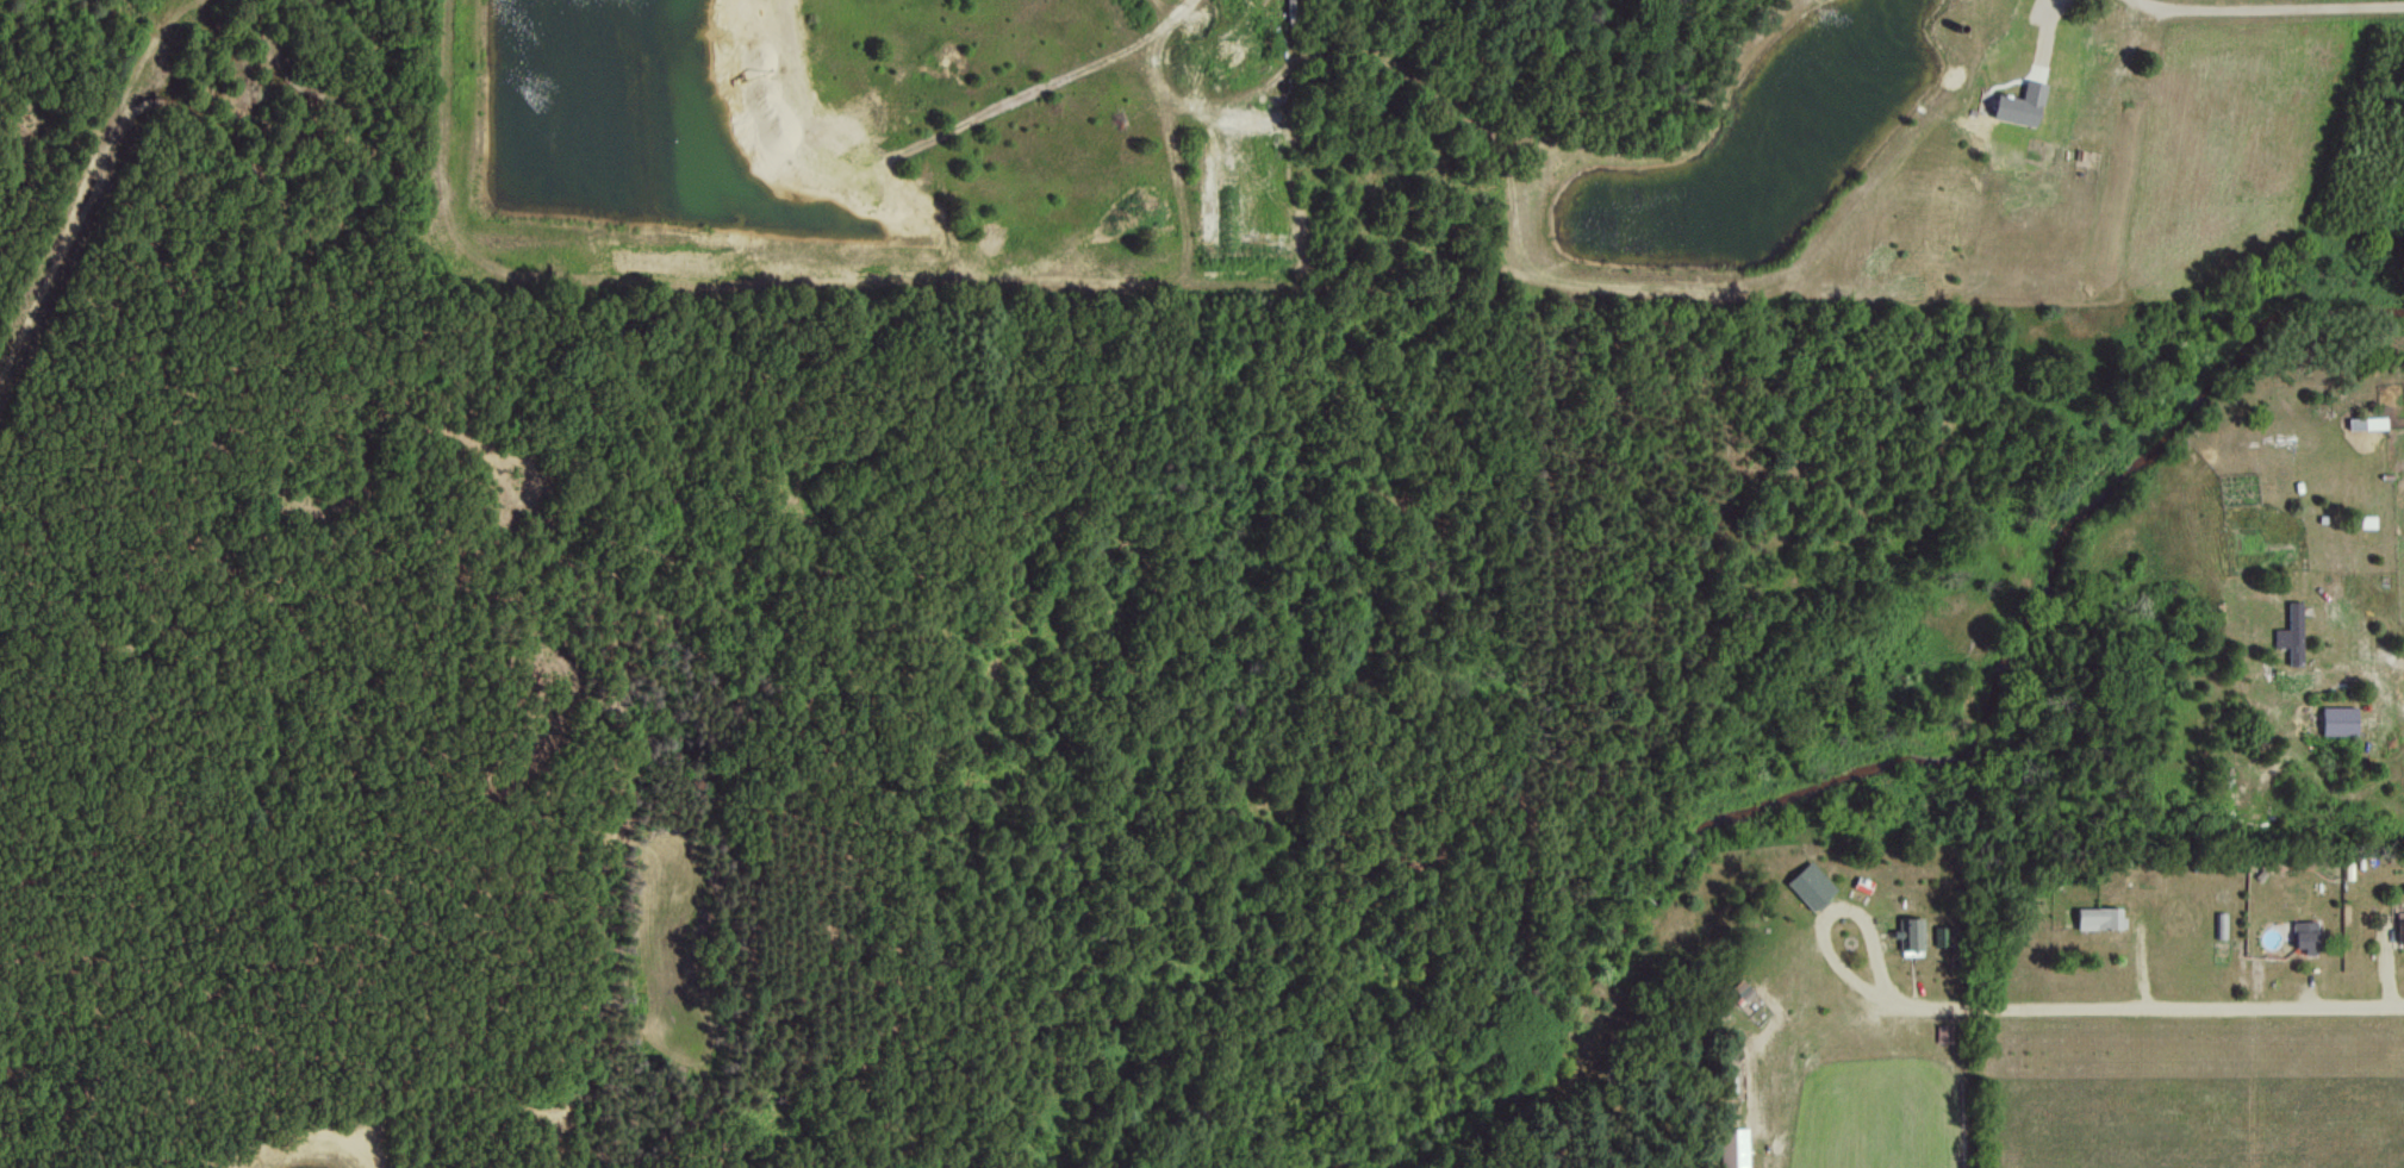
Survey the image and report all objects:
road: (2260, 2)
road: (44, 56)
building: (2017, 105)
building: (2290, 633)
building: (2336, 719)
road: (2151, 848)
building: (1808, 885)
road: (1837, 906)
building: (2097, 917)
building: (2399, 926)
building: (2304, 935)
building: (1908, 936)
building: (1742, 989)
road: (2150, 1000)
building: (1732, 1148)

